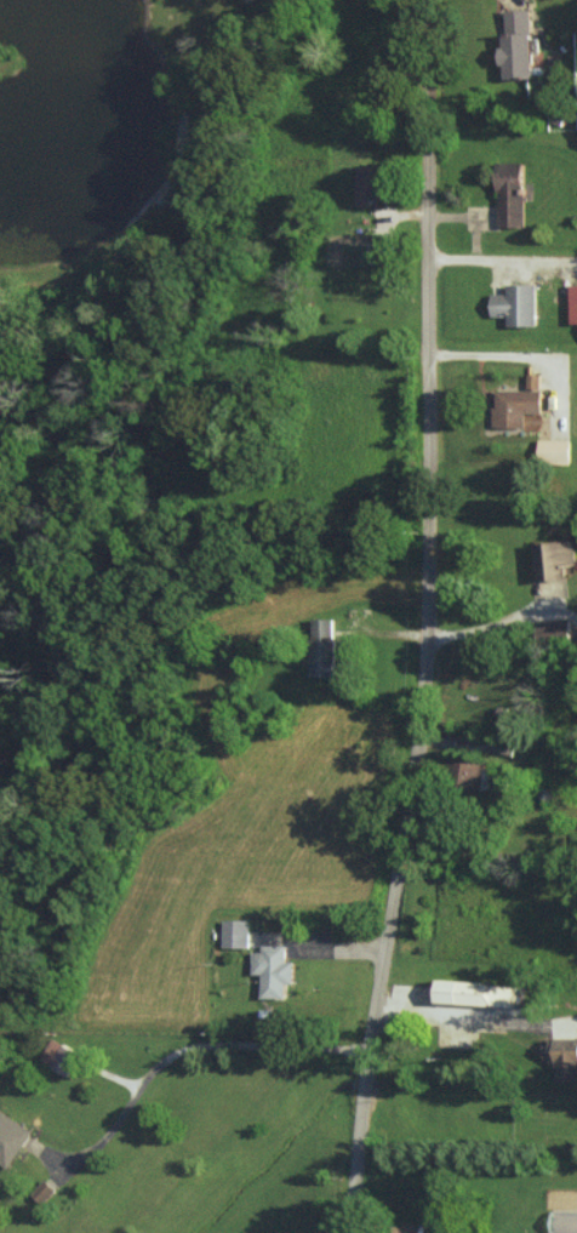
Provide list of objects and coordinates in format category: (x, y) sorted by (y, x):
building: (515, 42)
building: (369, 183)
building: (509, 194)
building: (572, 303)
building: (515, 304)
building: (513, 406)
building: (553, 451)
building: (552, 559)
road: (428, 618)
building: (552, 630)
building: (321, 647)
building: (463, 775)
building: (235, 932)
building: (272, 970)
building: (473, 992)
road: (185, 1051)
building: (58, 1056)
building: (561, 1057)
building: (8, 1140)
building: (42, 1191)
building: (562, 1221)
building: (406, 1228)

